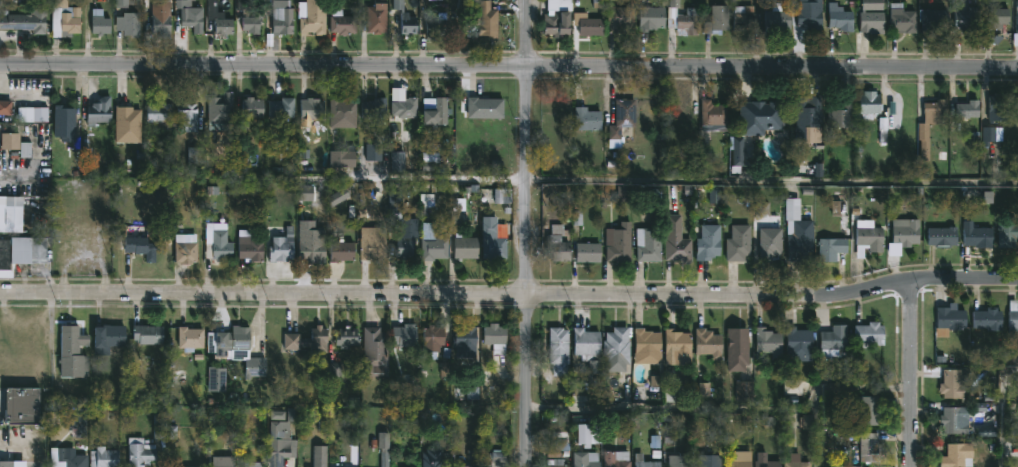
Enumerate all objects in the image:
building: (182, 0)
building: (872, 5)
building: (810, 14)
building: (964, 15)
building: (1017, 16)
building: (312, 17)
building: (378, 17)
building: (558, 17)
building: (621, 17)
building: (652, 17)
building: (746, 17)
building: (841, 17)
building: (66, 18)
building: (249, 18)
building: (903, 18)
building: (933, 18)
building: (282, 19)
building: (406, 19)
building: (684, 19)
building: (719, 19)
building: (777, 19)
building: (193, 20)
building: (488, 20)
building: (25, 21)
building: (873, 21)
building: (100, 22)
building: (160, 22)
building: (343, 23)
building: (588, 23)
building: (997, 24)
building: (129, 25)
building: (437, 27)
building: (224, 28)
road: (508, 70)
building: (871, 104)
building: (220, 107)
building: (253, 107)
building: (282, 107)
building: (375, 107)
building: (405, 107)
building: (486, 107)
building: (1000, 107)
building: (5, 109)
building: (311, 109)
building: (965, 109)
building: (436, 110)
building: (840, 112)
building: (98, 113)
building: (342, 113)
building: (808, 114)
building: (25, 115)
building: (160, 116)
building: (188, 116)
building: (714, 116)
building: (761, 116)
building: (588, 118)
building: (622, 119)
building: (931, 121)
building: (64, 122)
building: (128, 123)
building: (991, 134)
building: (9, 142)
building: (374, 150)
building: (738, 152)
building: (195, 157)
building: (343, 158)
road: (380, 176)
road: (772, 183)
building: (11, 213)
building: (799, 230)
building: (908, 232)
road: (527, 233)
building: (944, 235)
building: (1008, 235)
building: (869, 237)
building: (978, 238)
building: (494, 239)
building: (677, 240)
building: (620, 242)
building: (710, 242)
building: (772, 242)
building: (373, 243)
building: (433, 243)
building: (558, 243)
building: (740, 243)
building: (312, 244)
building: (650, 244)
building: (219, 246)
building: (143, 247)
building: (250, 247)
building: (406, 247)
building: (467, 247)
building: (833, 248)
building: (281, 249)
building: (187, 251)
building: (342, 251)
building: (21, 252)
building: (590, 252)
road: (510, 294)
building: (1014, 317)
building: (951, 319)
building: (990, 319)
building: (149, 334)
building: (406, 335)
building: (869, 335)
building: (347, 336)
building: (109, 337)
building: (191, 338)
building: (497, 338)
building: (434, 339)
building: (800, 339)
building: (308, 340)
building: (467, 341)
building: (771, 342)
building: (709, 343)
building: (832, 344)
building: (588, 346)
building: (619, 346)
building: (649, 346)
building: (678, 347)
building: (739, 348)
building: (237, 349)
building: (559, 350)
building: (73, 351)
building: (376, 352)
road: (913, 375)
building: (217, 379)
building: (953, 383)
building: (796, 389)
building: (745, 391)
building: (23, 405)
building: (871, 410)
road: (723, 418)
road: (1003, 419)
building: (956, 420)
building: (79, 424)
building: (590, 433)
building: (282, 445)
building: (871, 445)
building: (385, 448)
building: (141, 452)
building: (959, 455)
building: (321, 456)
building: (104, 457)
building: (71, 458)
building: (434, 458)
building: (588, 459)
building: (616, 459)
building: (742, 459)
building: (679, 460)
building: (224, 461)
building: (646, 461)
building: (767, 461)
building: (798, 461)
building: (557, 462)
building: (7, 464)
building: (254, 464)
building: (711, 465)
building: (468, 466)

